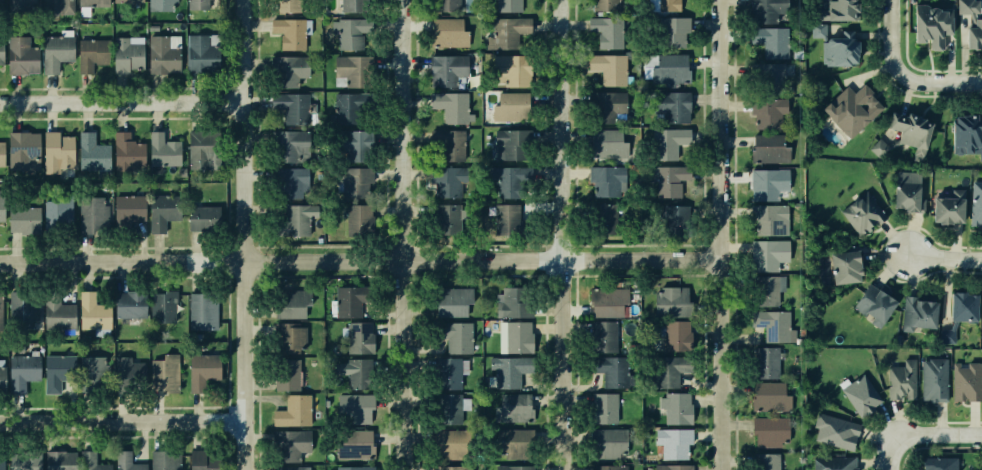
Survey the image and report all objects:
building: (132, 1)
building: (1, 2)
building: (25, 2)
building: (98, 3)
building: (164, 4)
building: (198, 4)
building: (61, 5)
building: (603, 5)
building: (667, 5)
building: (294, 6)
building: (354, 6)
building: (444, 6)
building: (509, 6)
building: (840, 9)
building: (763, 10)
building: (817, 13)
building: (972, 24)
building: (929, 26)
building: (818, 29)
building: (446, 33)
building: (508, 33)
building: (607, 33)
building: (670, 33)
building: (294, 35)
building: (348, 36)
building: (769, 40)
road: (890, 41)
building: (838, 47)
building: (3, 51)
building: (59, 52)
building: (132, 52)
building: (95, 53)
building: (206, 53)
building: (165, 55)
building: (26, 56)
building: (608, 68)
building: (445, 69)
building: (510, 69)
building: (669, 69)
building: (292, 70)
building: (351, 70)
building: (772, 78)
road: (937, 83)
road: (125, 103)
building: (453, 106)
building: (510, 106)
building: (603, 106)
building: (671, 106)
building: (293, 107)
building: (347, 108)
building: (850, 109)
building: (765, 114)
building: (904, 133)
building: (966, 135)
building: (606, 143)
building: (354, 144)
building: (450, 144)
building: (509, 144)
building: (666, 144)
building: (288, 146)
building: (205, 148)
building: (61, 149)
building: (768, 149)
building: (26, 150)
building: (168, 150)
building: (131, 152)
building: (4, 153)
building: (97, 153)
building: (505, 180)
building: (446, 181)
building: (605, 181)
building: (668, 181)
building: (290, 183)
building: (354, 183)
building: (768, 183)
building: (906, 192)
building: (976, 204)
building: (946, 207)
building: (133, 208)
building: (3, 209)
building: (167, 209)
building: (862, 211)
building: (61, 213)
building: (97, 214)
building: (205, 216)
building: (27, 218)
building: (449, 218)
building: (358, 219)
building: (505, 219)
building: (604, 219)
building: (766, 219)
building: (297, 220)
building: (673, 220)
road: (411, 234)
road: (250, 235)
road: (567, 235)
road: (717, 235)
building: (768, 254)
road: (359, 258)
road: (944, 258)
building: (842, 265)
building: (765, 290)
building: (671, 301)
building: (345, 302)
building: (451, 302)
building: (512, 302)
building: (607, 302)
building: (135, 304)
building: (289, 304)
building: (165, 305)
building: (873, 305)
building: (981, 307)
building: (26, 308)
building: (204, 309)
building: (1, 311)
building: (98, 311)
building: (915, 313)
building: (63, 315)
building: (955, 315)
building: (774, 324)
building: (675, 335)
building: (357, 336)
building: (454, 336)
building: (603, 336)
building: (518, 337)
building: (287, 338)
building: (765, 363)
building: (203, 368)
building: (60, 370)
building: (94, 370)
building: (125, 370)
building: (507, 370)
building: (611, 370)
building: (27, 371)
building: (664, 372)
building: (167, 373)
building: (287, 374)
building: (359, 374)
building: (446, 374)
building: (5, 377)
building: (902, 380)
building: (933, 380)
building: (964, 380)
building: (860, 394)
building: (769, 397)
building: (352, 408)
building: (603, 408)
building: (446, 409)
building: (676, 409)
building: (292, 410)
building: (512, 410)
road: (124, 421)
building: (834, 429)
building: (769, 430)
road: (919, 438)
building: (606, 442)
building: (287, 443)
building: (671, 443)
building: (353, 444)
building: (509, 444)
building: (449, 445)
building: (63, 460)
building: (129, 460)
building: (167, 460)
building: (2, 461)
building: (95, 461)
building: (201, 461)
building: (981, 461)
building: (27, 462)
building: (767, 462)
building: (833, 463)
building: (939, 465)
building: (981, 465)
building: (606, 467)
building: (672, 467)
building: (354, 468)
building: (455, 468)
building: (513, 468)
building: (291, 469)

